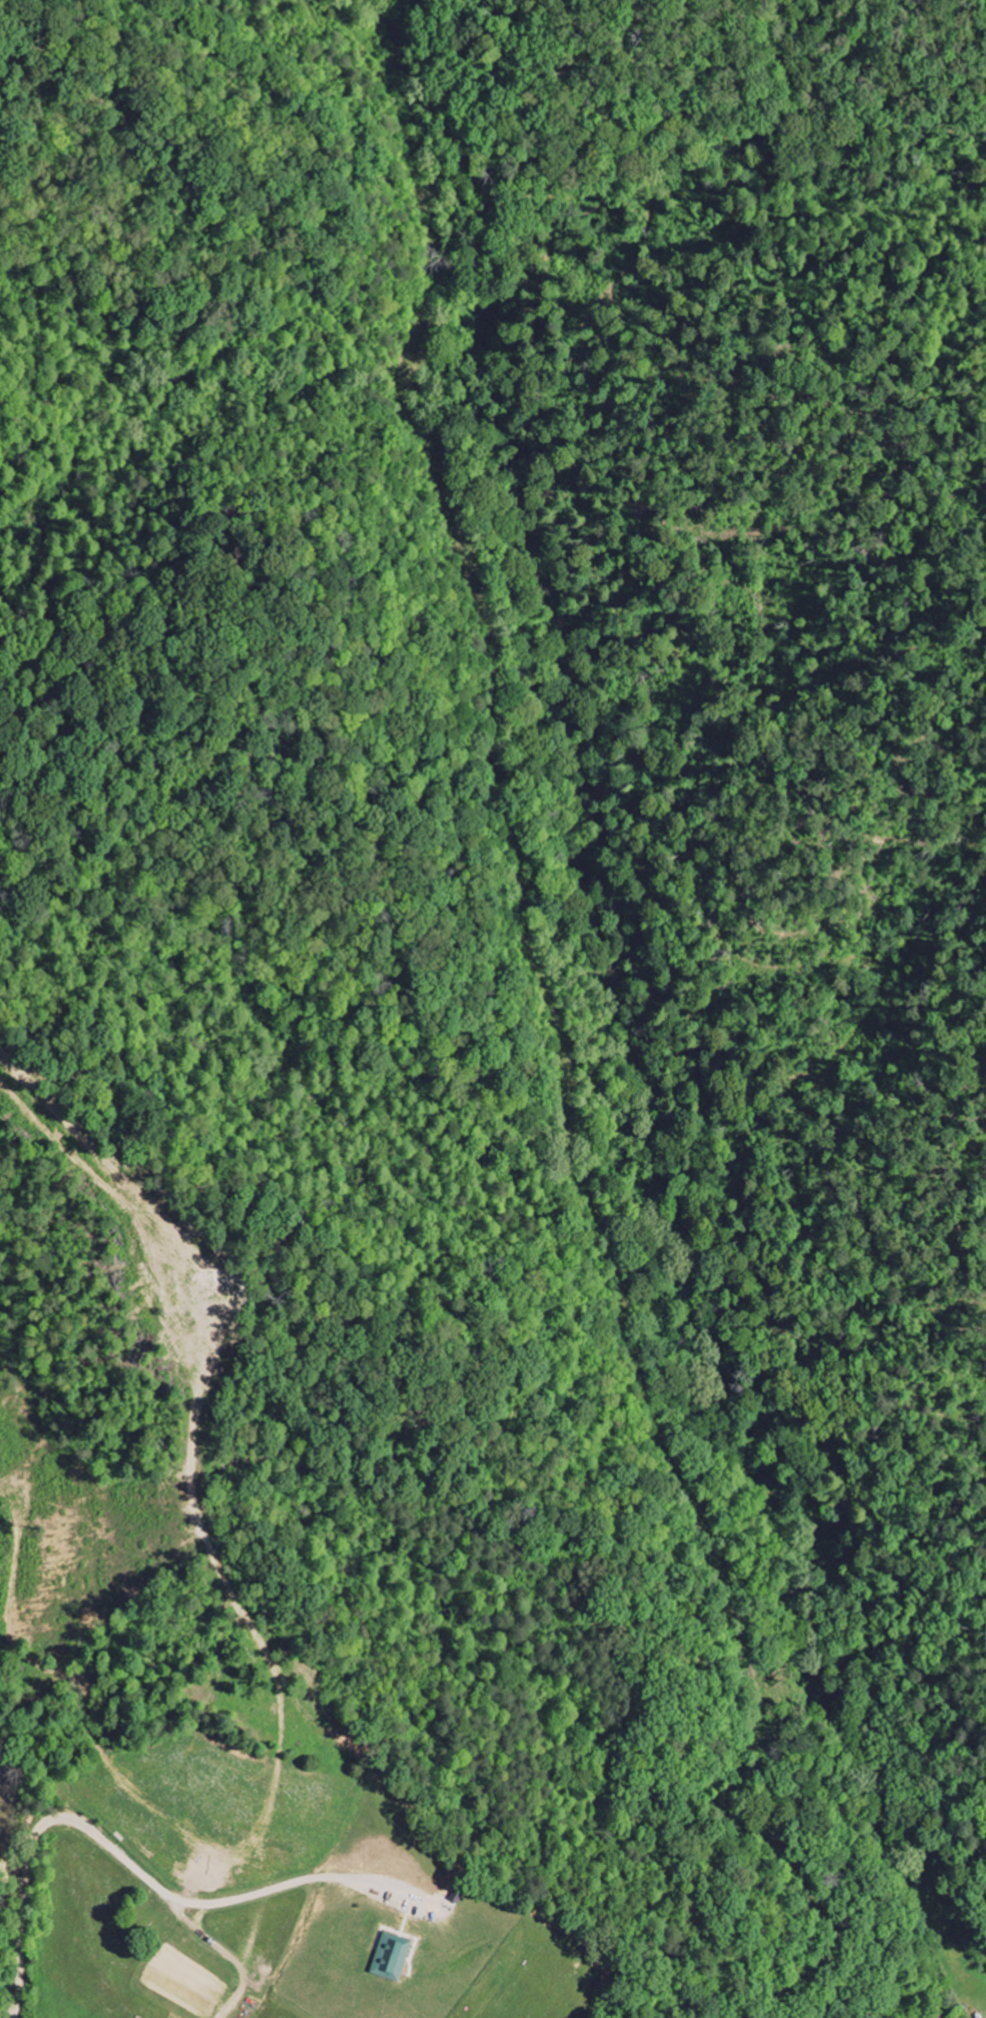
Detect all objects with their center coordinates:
building: (395, 1955)

